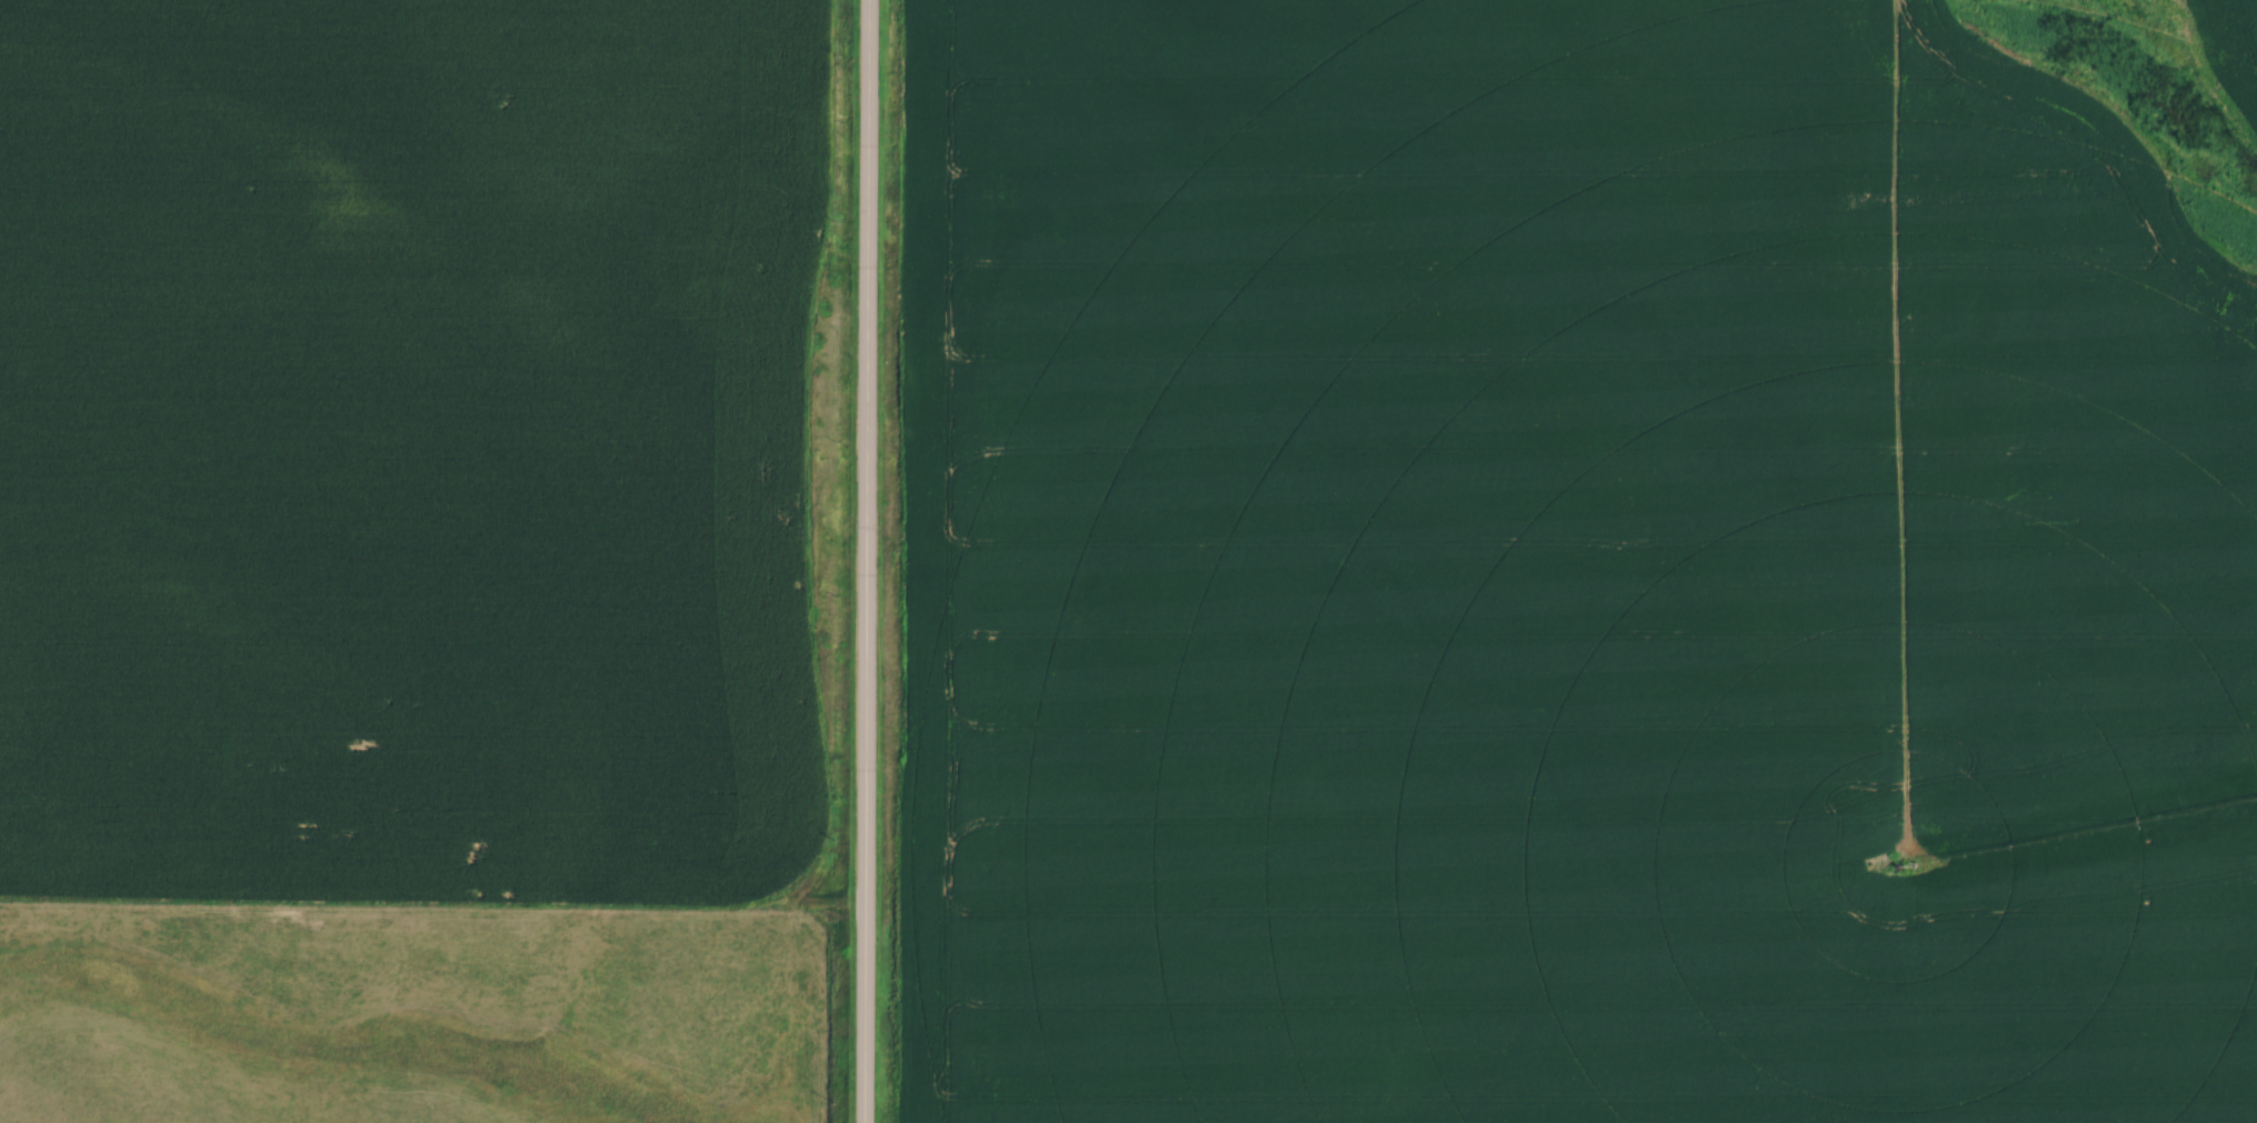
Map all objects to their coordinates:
crop: (409, 449)
road: (865, 561)

